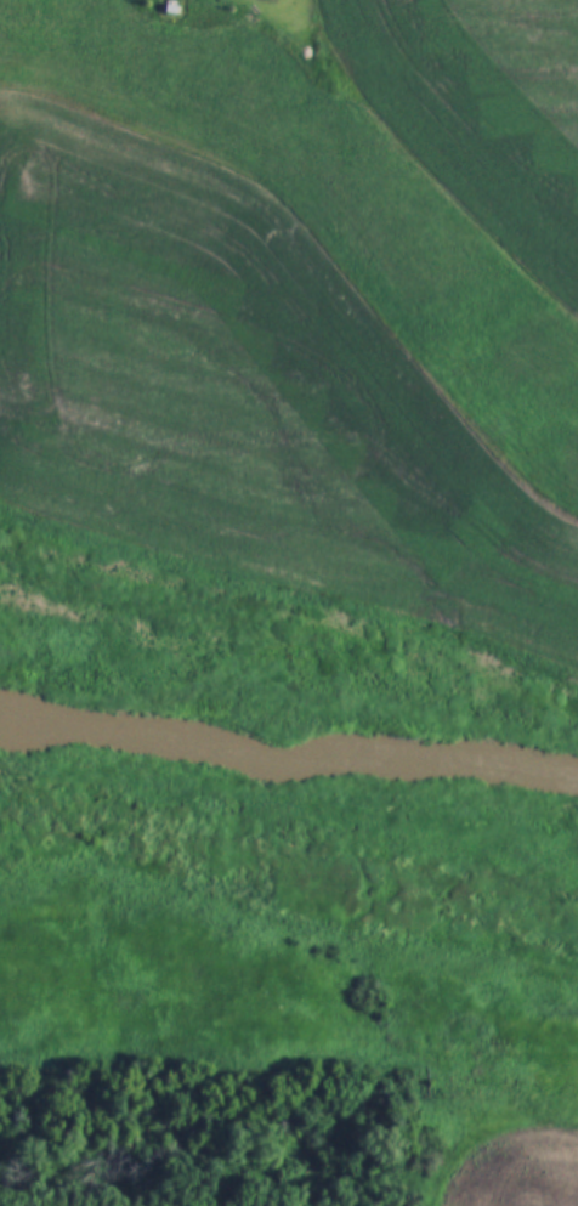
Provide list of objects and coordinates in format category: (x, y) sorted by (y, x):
river: (288, 764)

